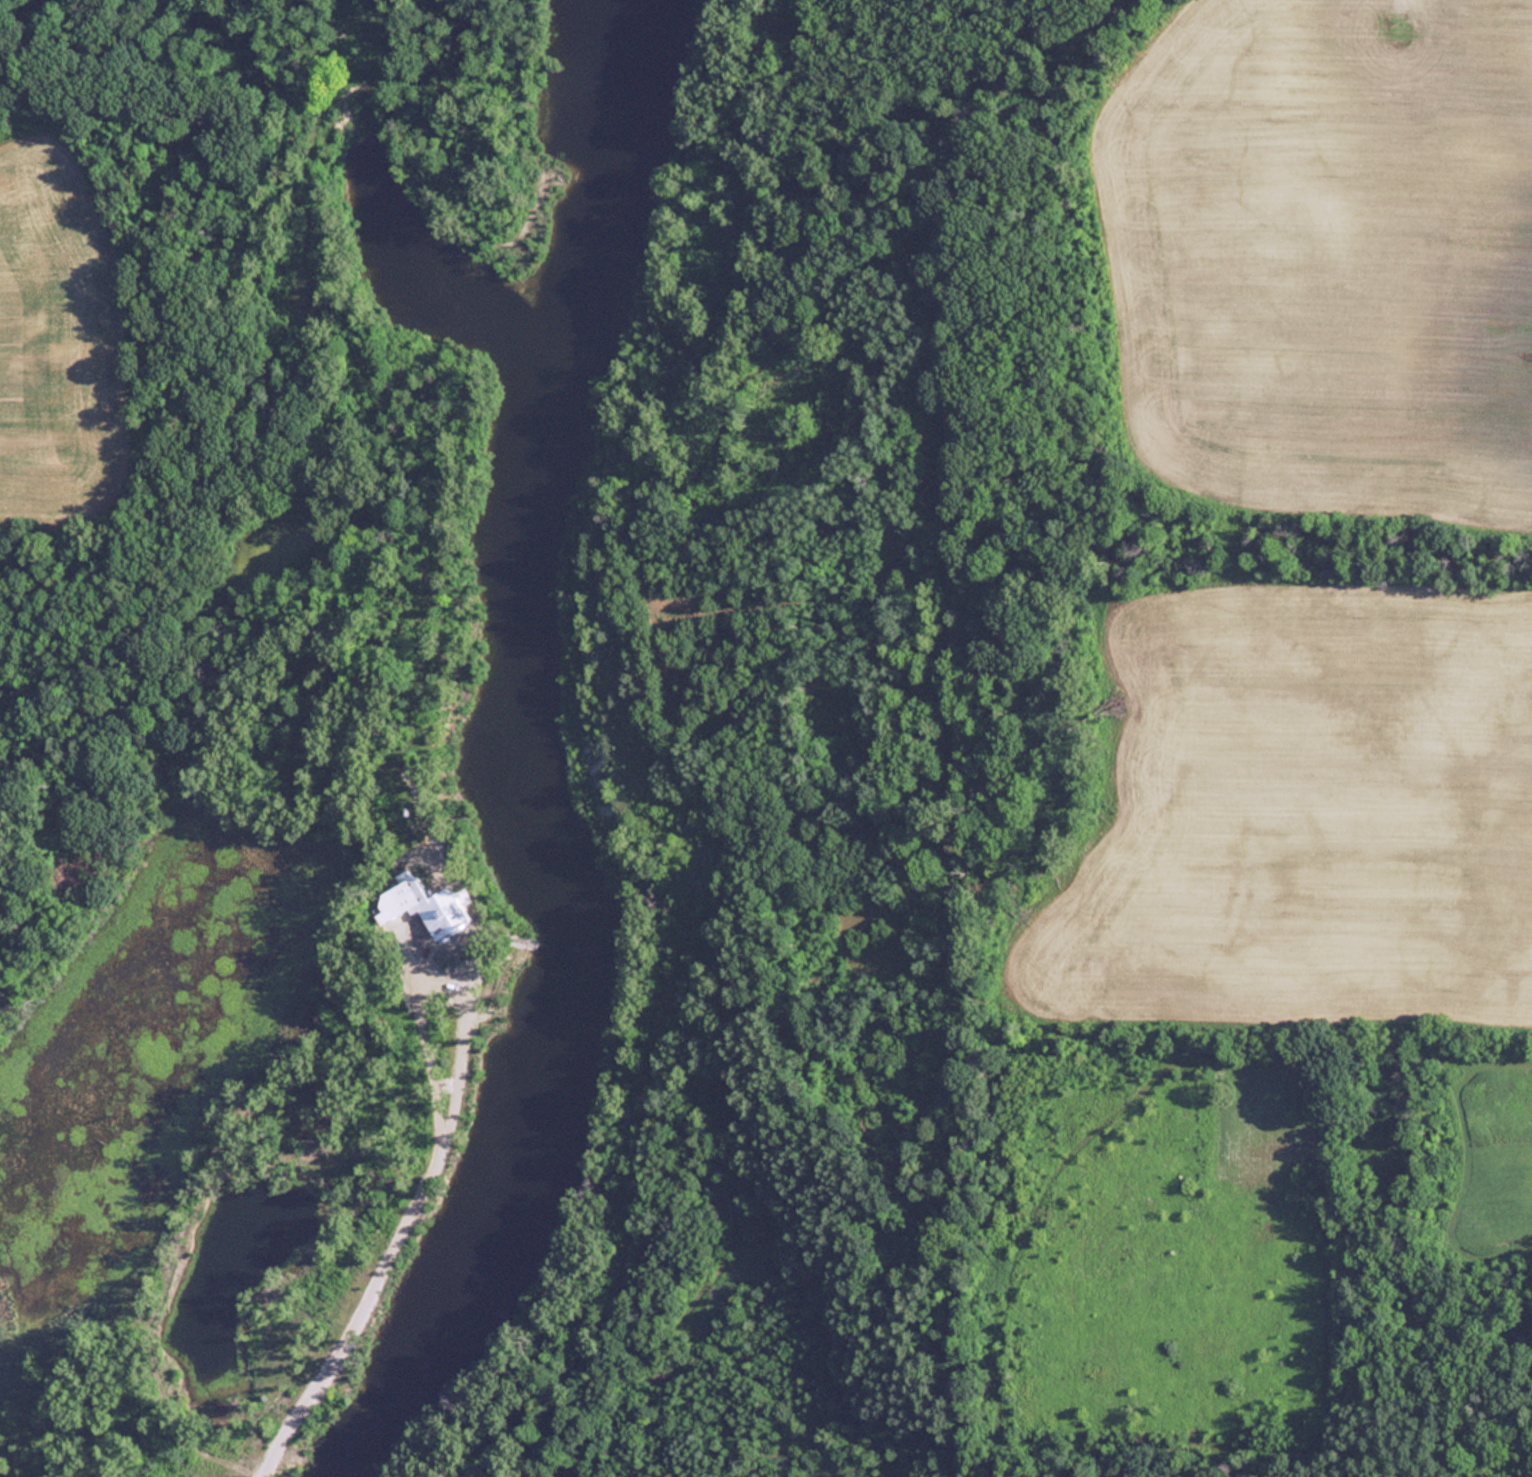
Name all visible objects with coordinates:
building: (426, 906)
road: (395, 1222)

